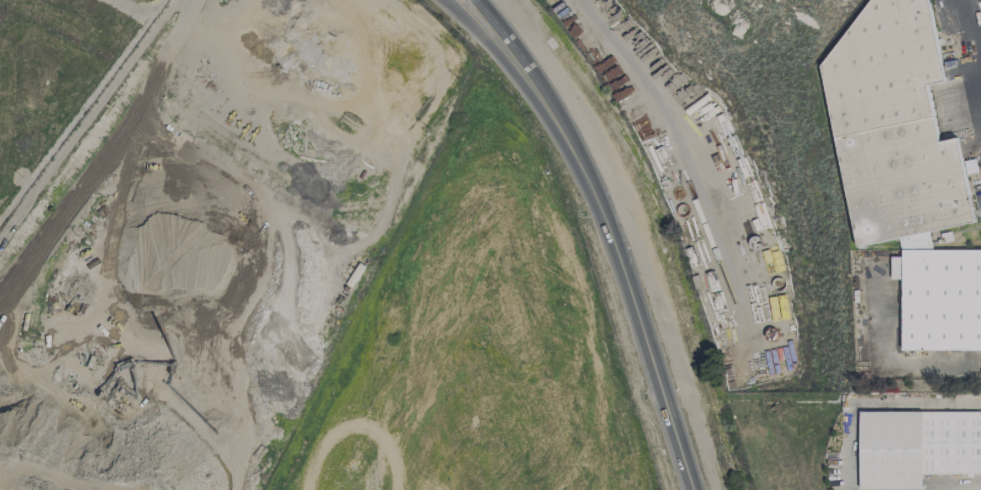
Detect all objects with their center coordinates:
road: (473, 8)
road: (458, 10)
road: (974, 18)
road: (176, 20)
road: (87, 114)
building: (893, 125)
road: (611, 239)
landfill: (216, 243)
building: (940, 299)
road: (883, 352)
road: (870, 401)
road: (238, 443)
building: (916, 447)
road: (957, 488)

